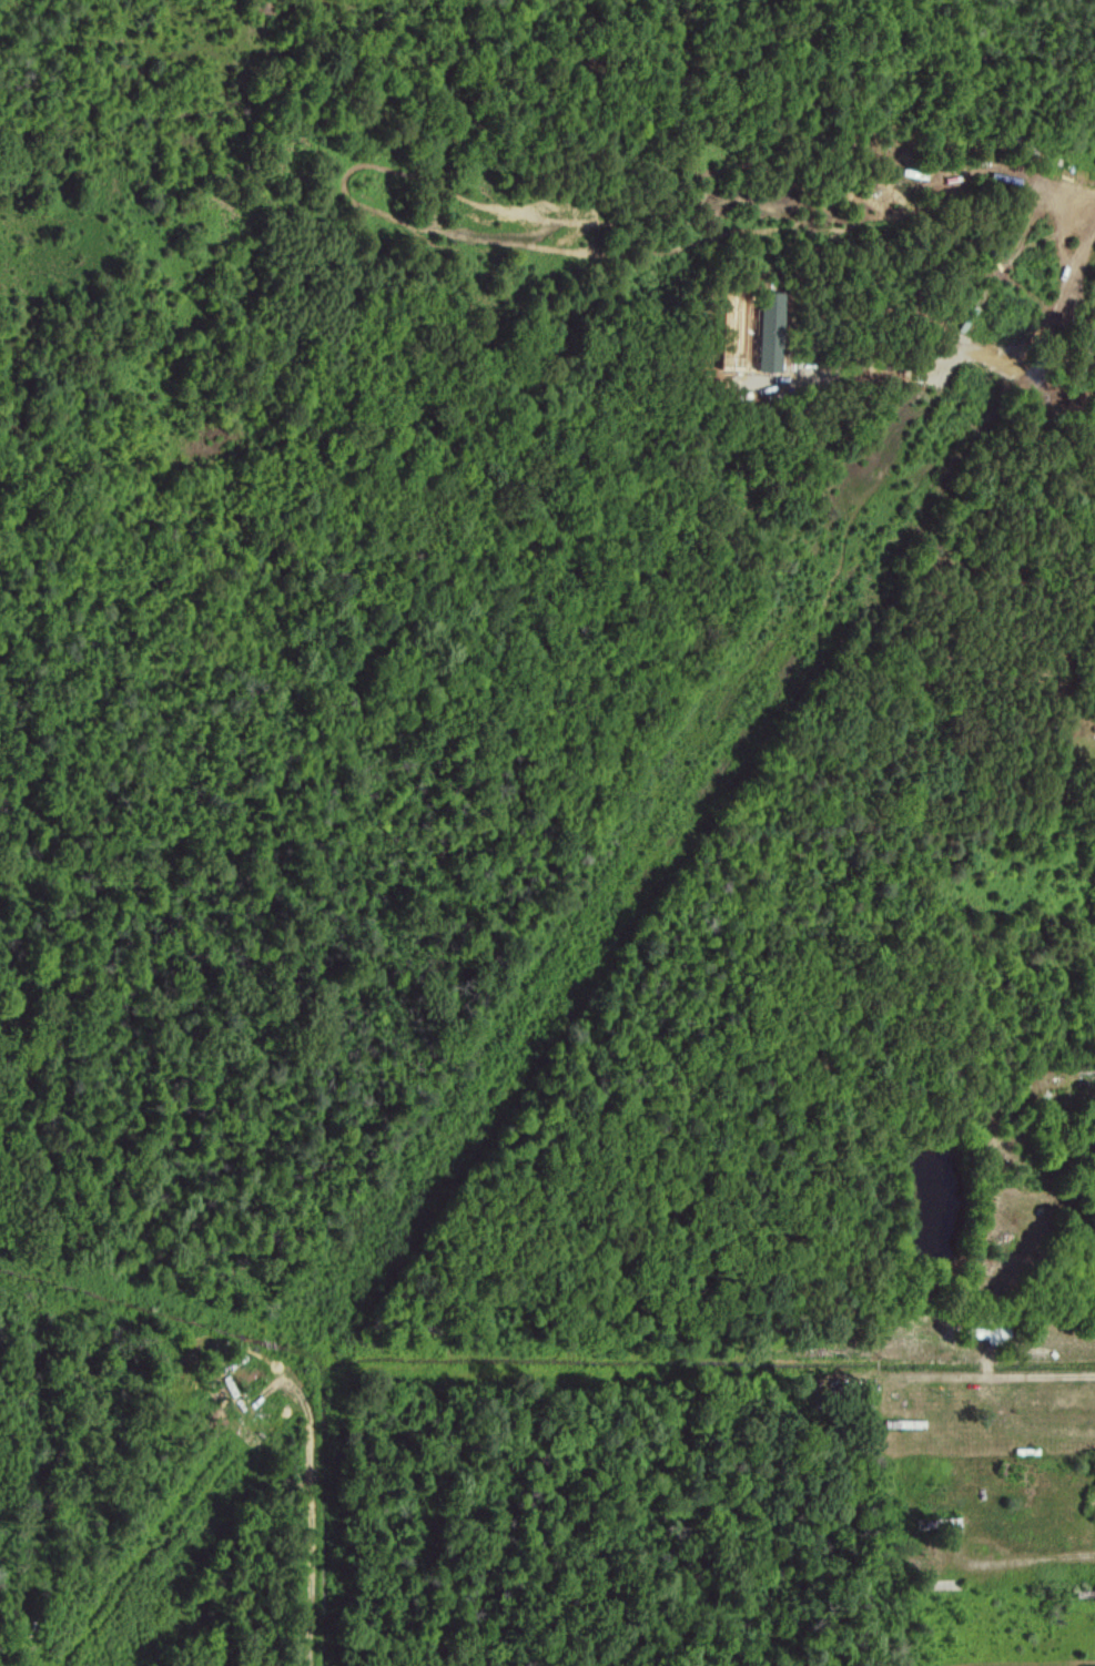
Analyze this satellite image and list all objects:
building: (769, 329)
road: (956, 1342)
road: (1031, 1562)

